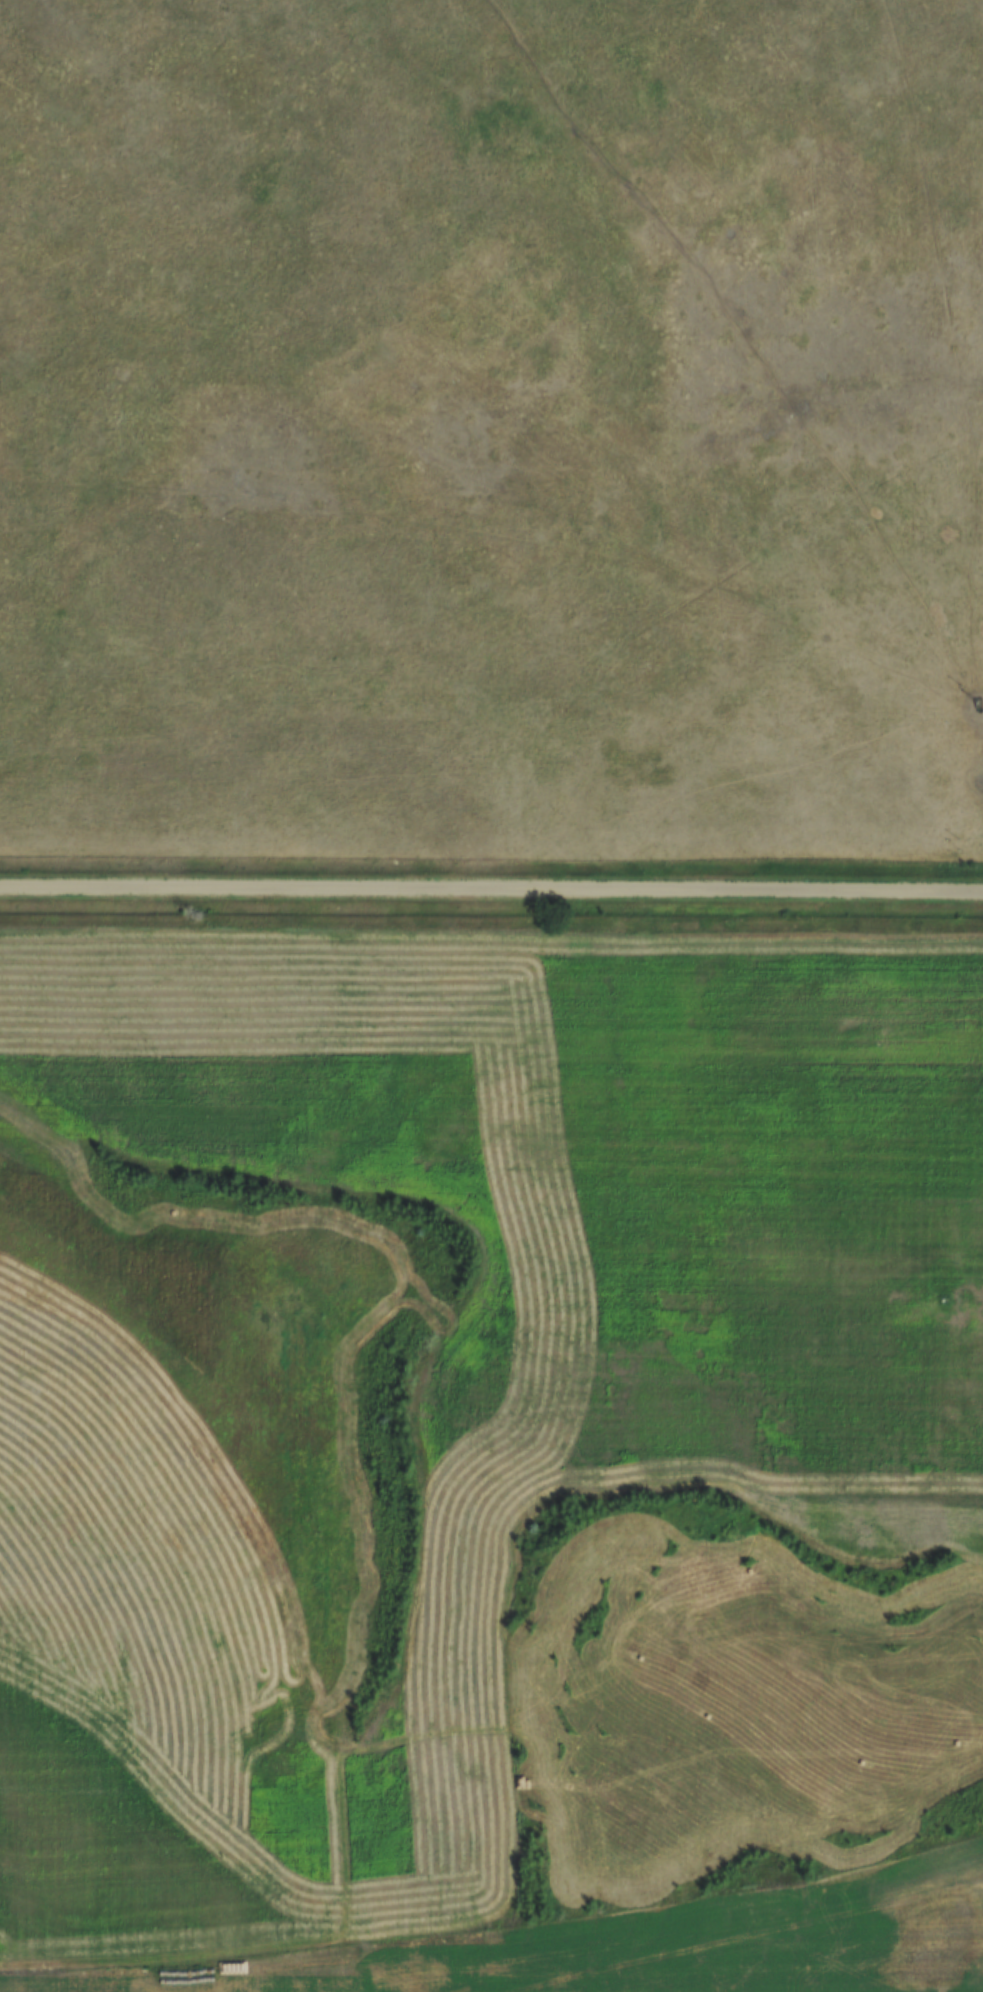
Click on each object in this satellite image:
road: (491, 887)

